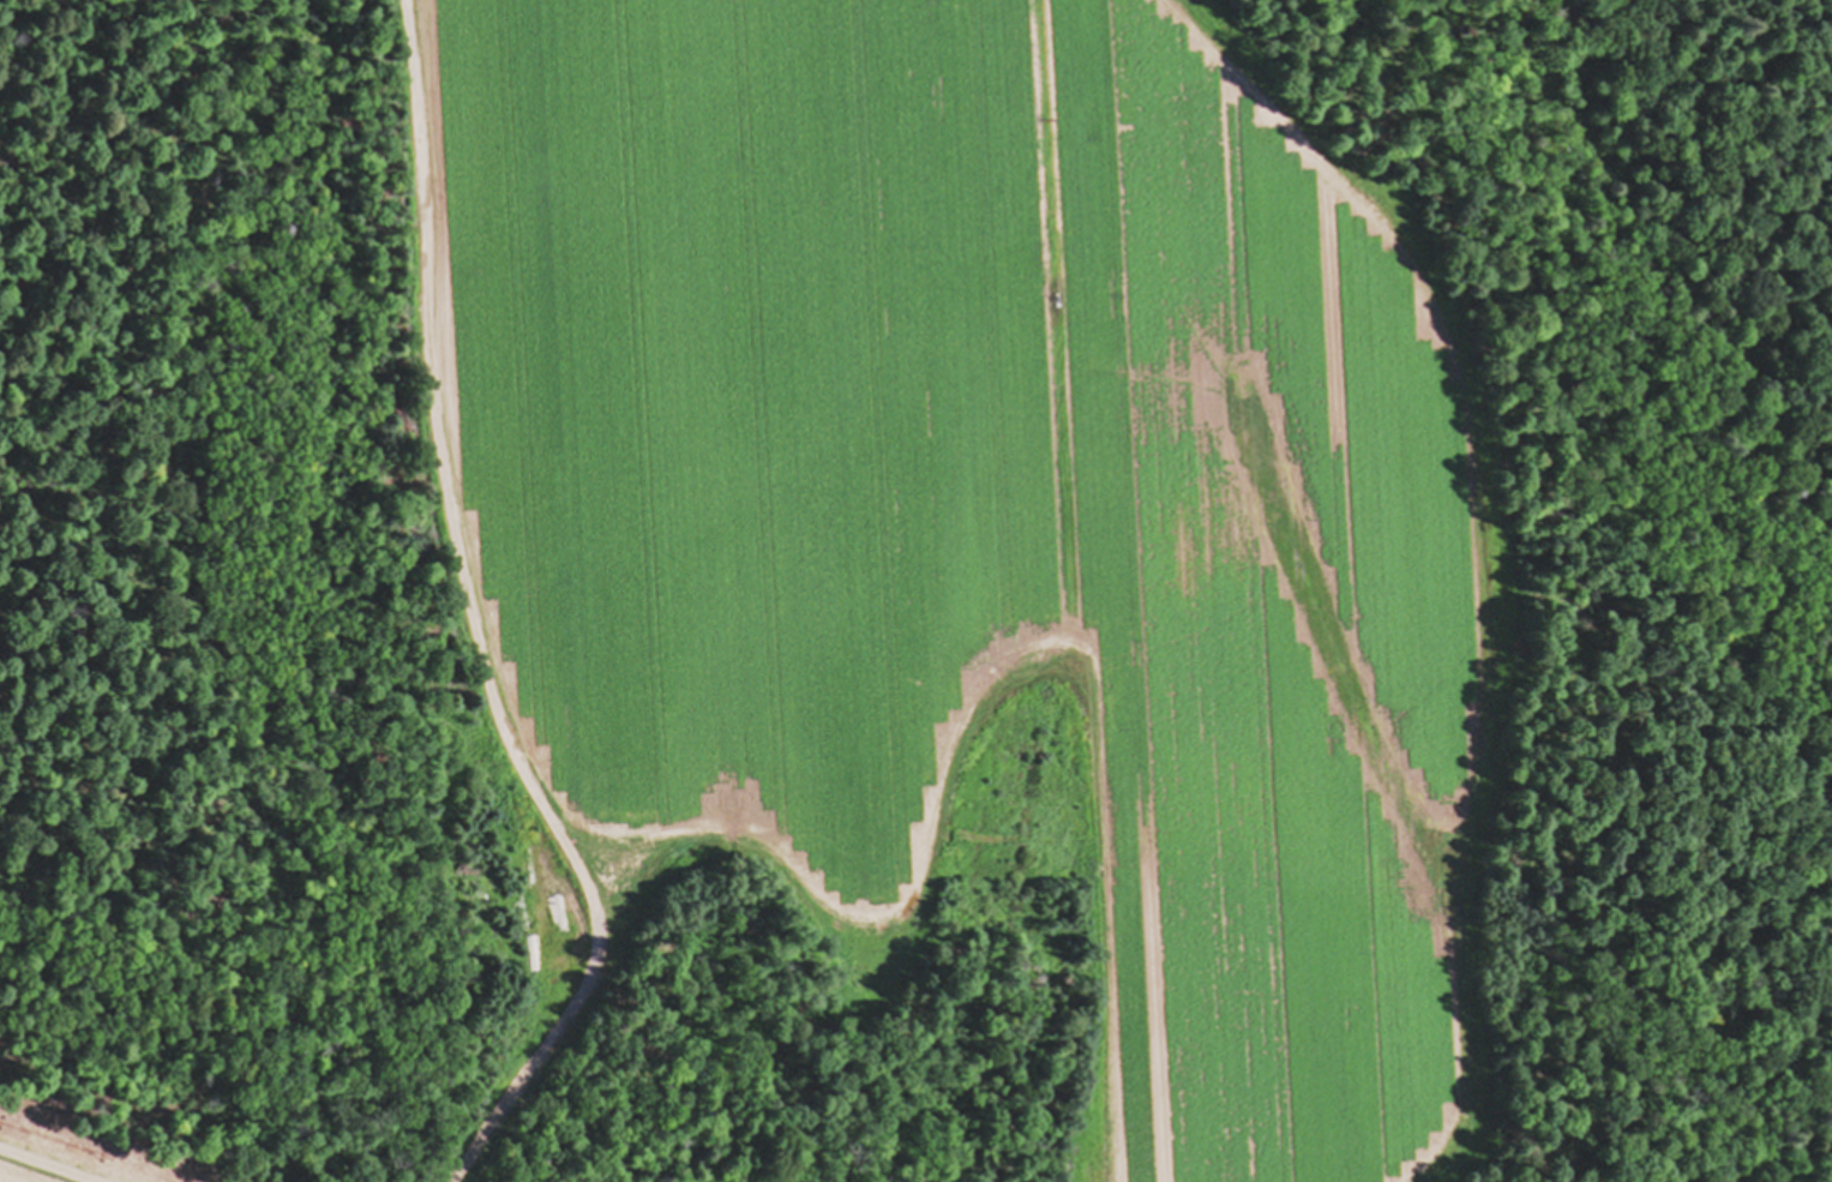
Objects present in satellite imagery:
road: (473, 624)
road: (46, 1165)

